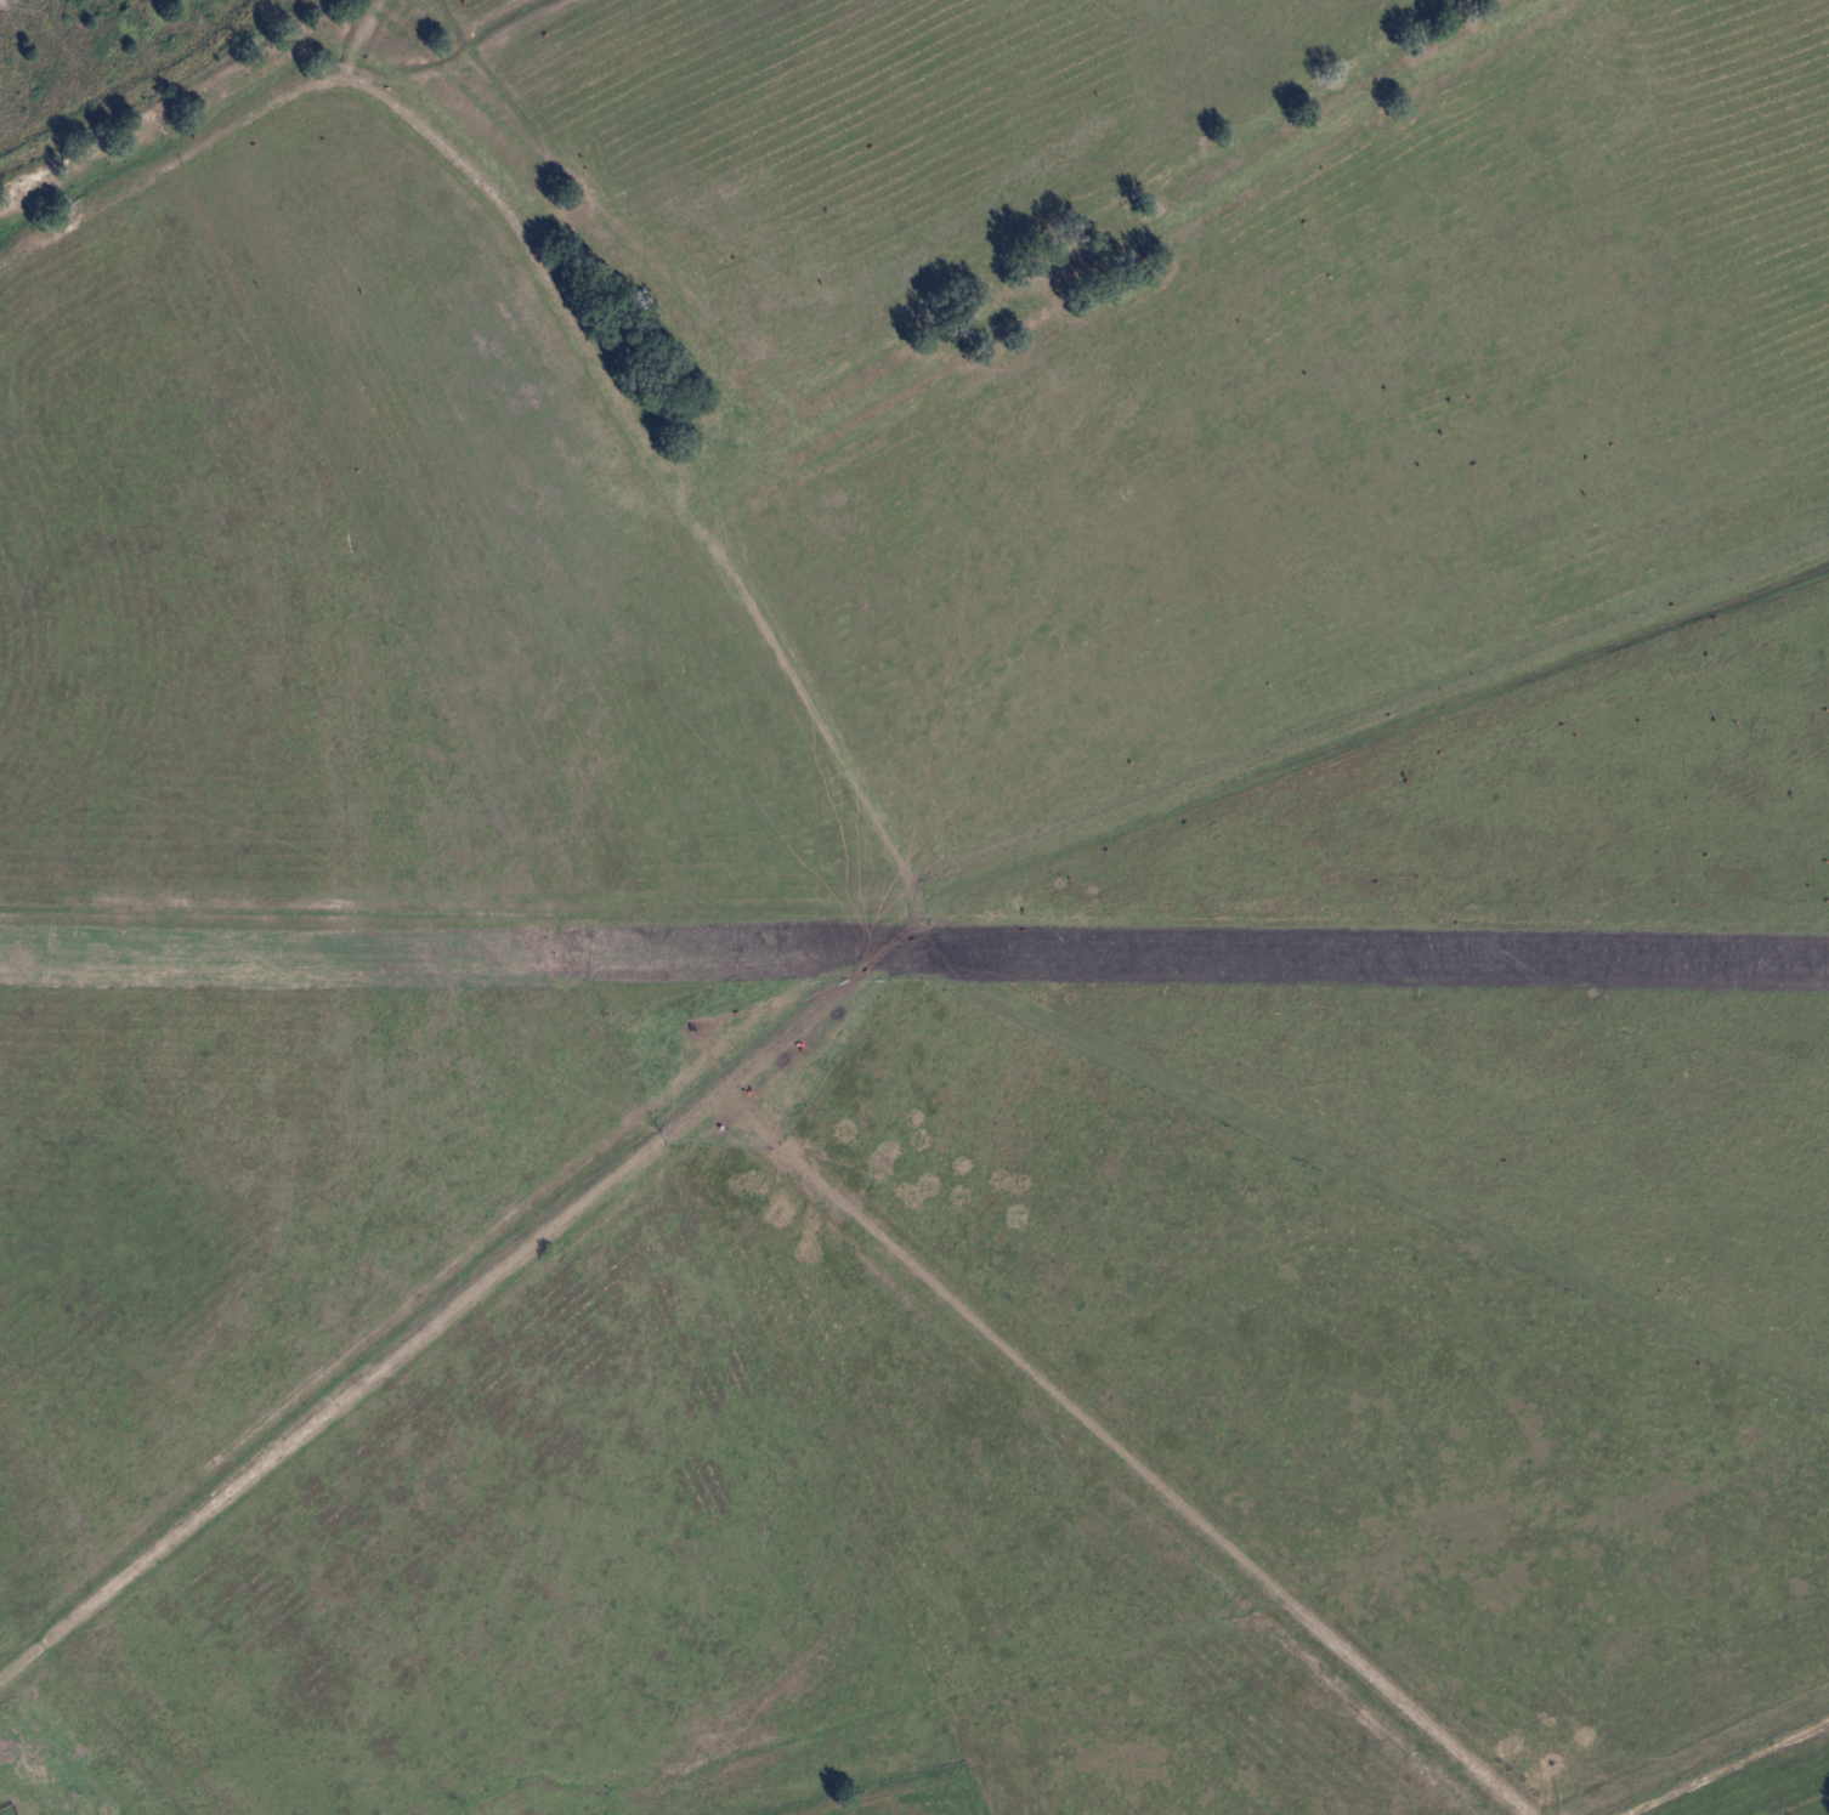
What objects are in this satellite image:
road: (877, 374)

